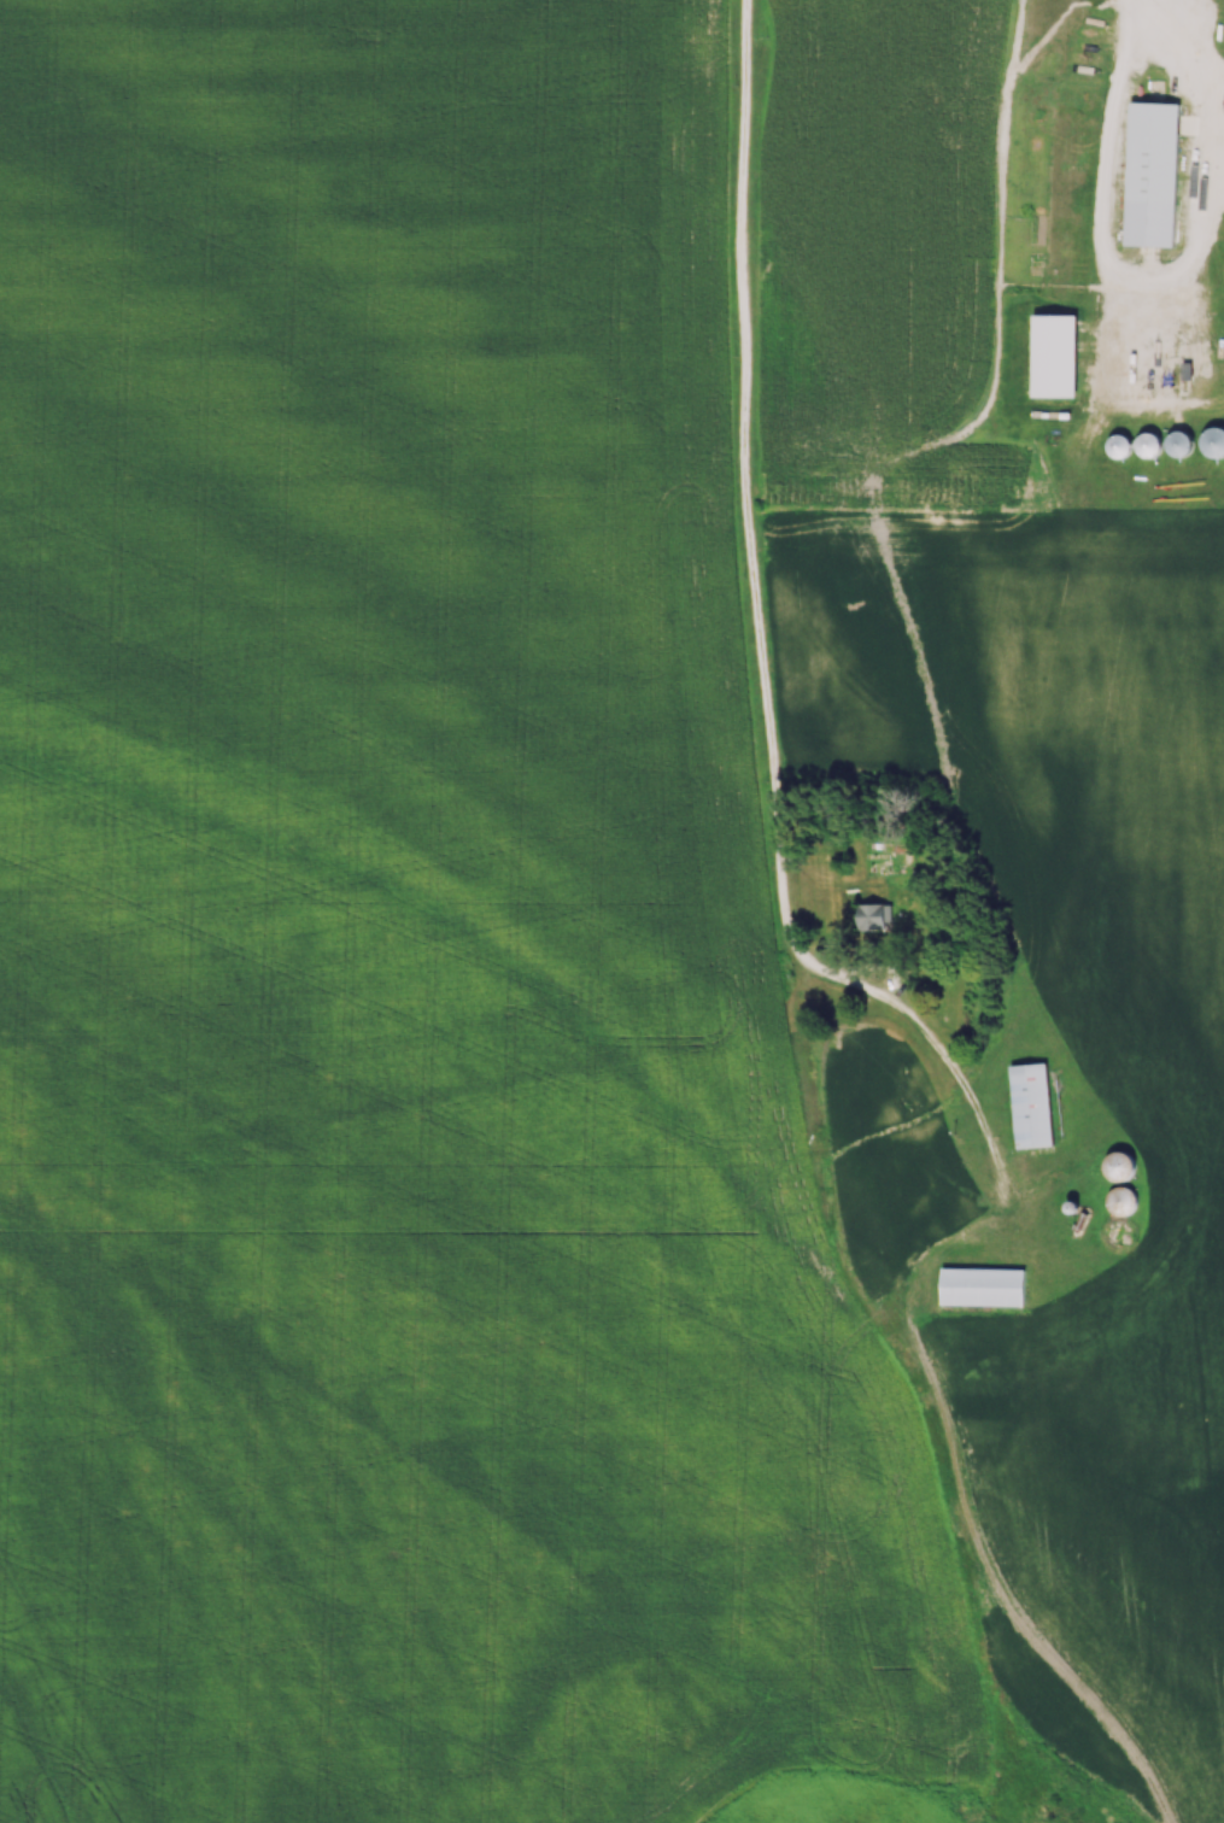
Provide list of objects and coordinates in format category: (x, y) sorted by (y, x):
road: (1162, 17)
building: (1152, 174)
road: (1150, 277)
building: (1054, 354)
road: (744, 527)
building: (873, 915)
road: (966, 1100)
building: (1031, 1104)
building: (983, 1286)

